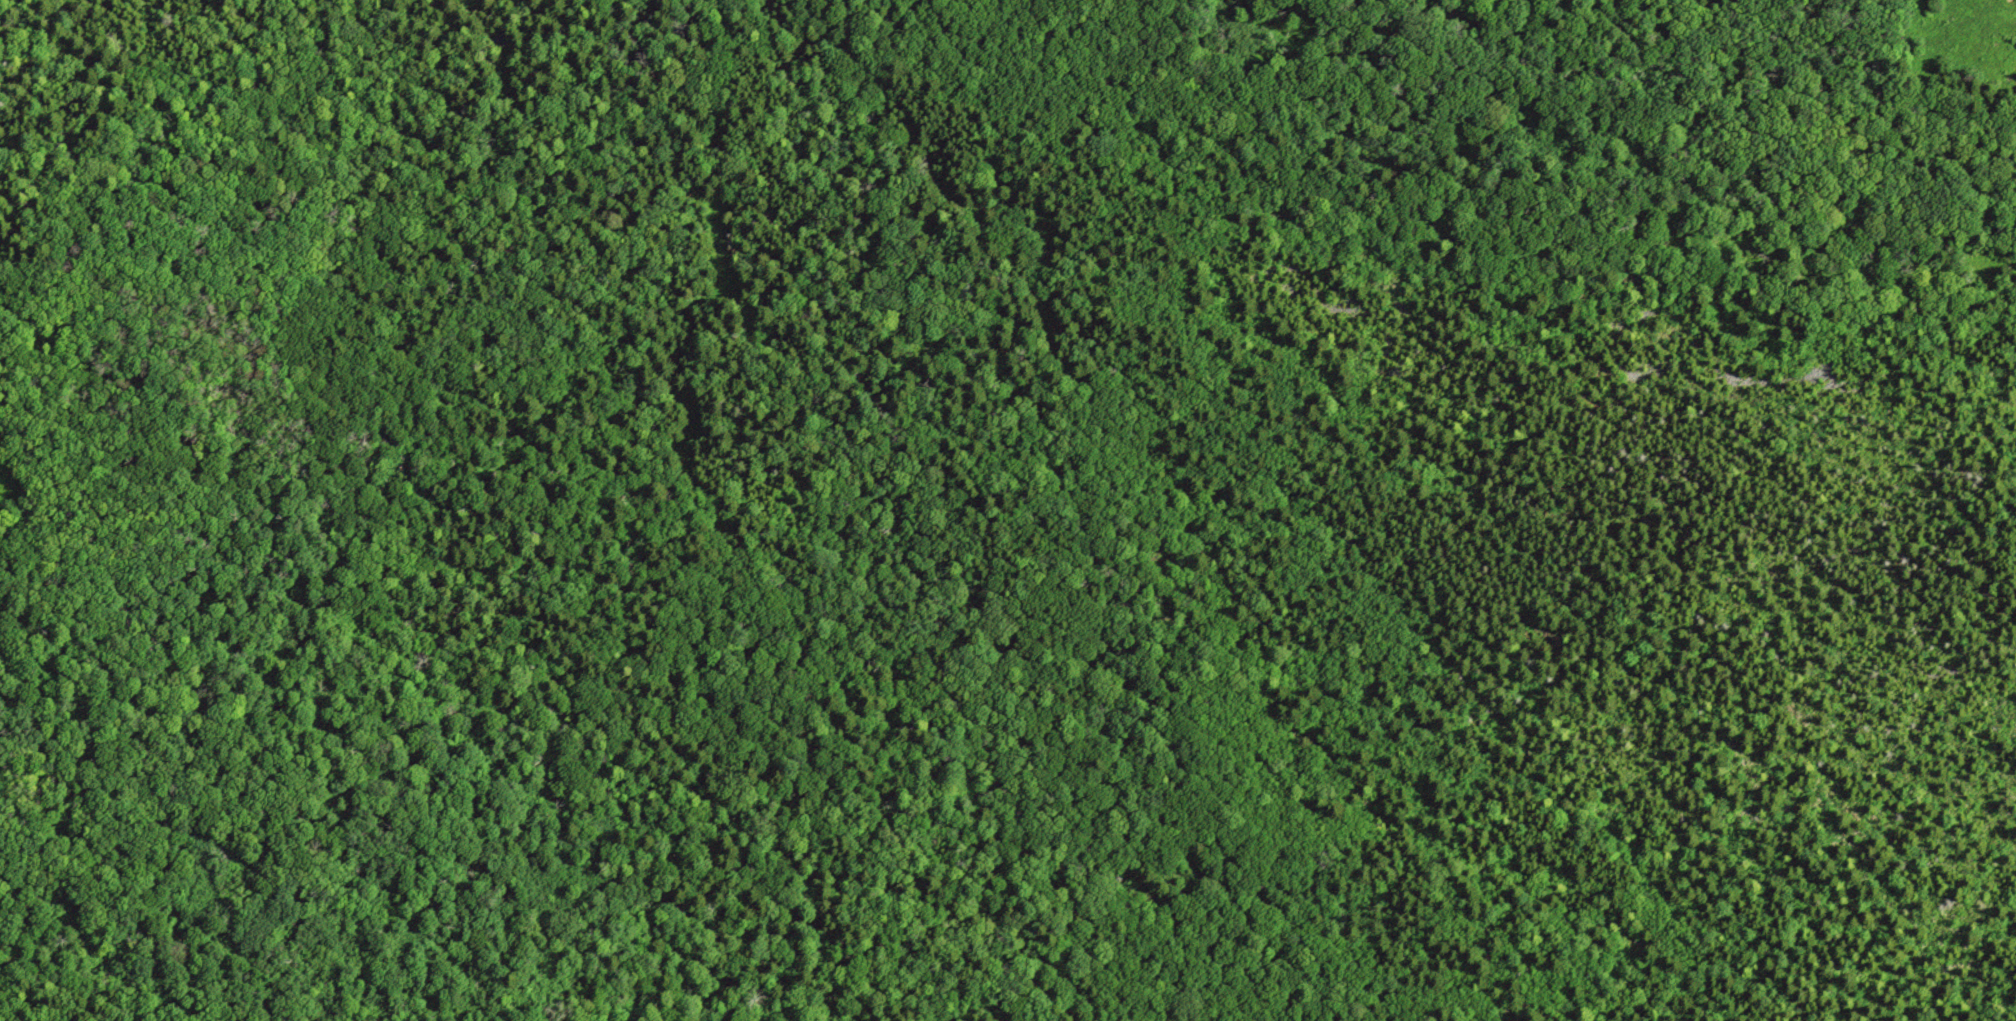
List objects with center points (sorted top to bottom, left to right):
road: (160, 195)

